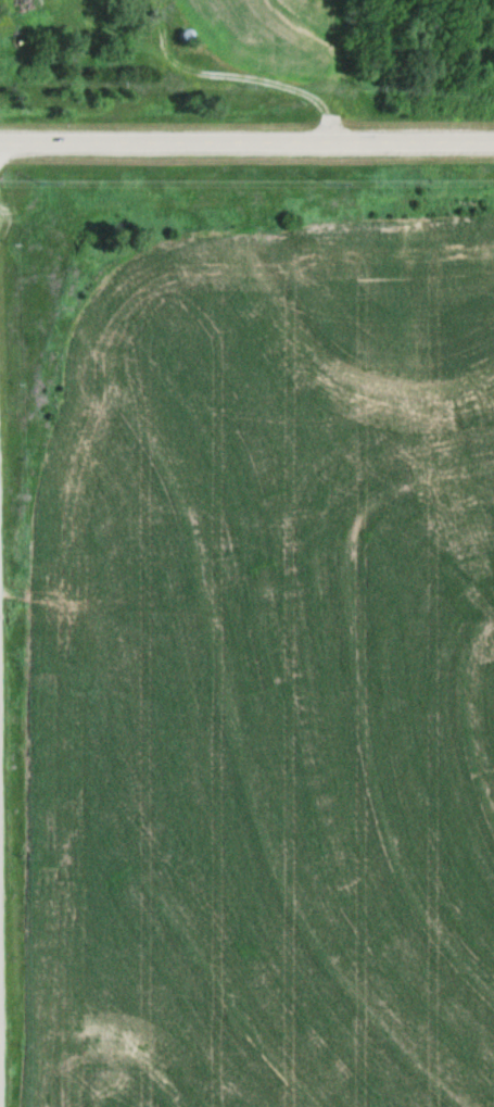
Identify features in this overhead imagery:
building: (78, 61)
road: (237, 78)
road: (246, 141)
road: (1, 998)

